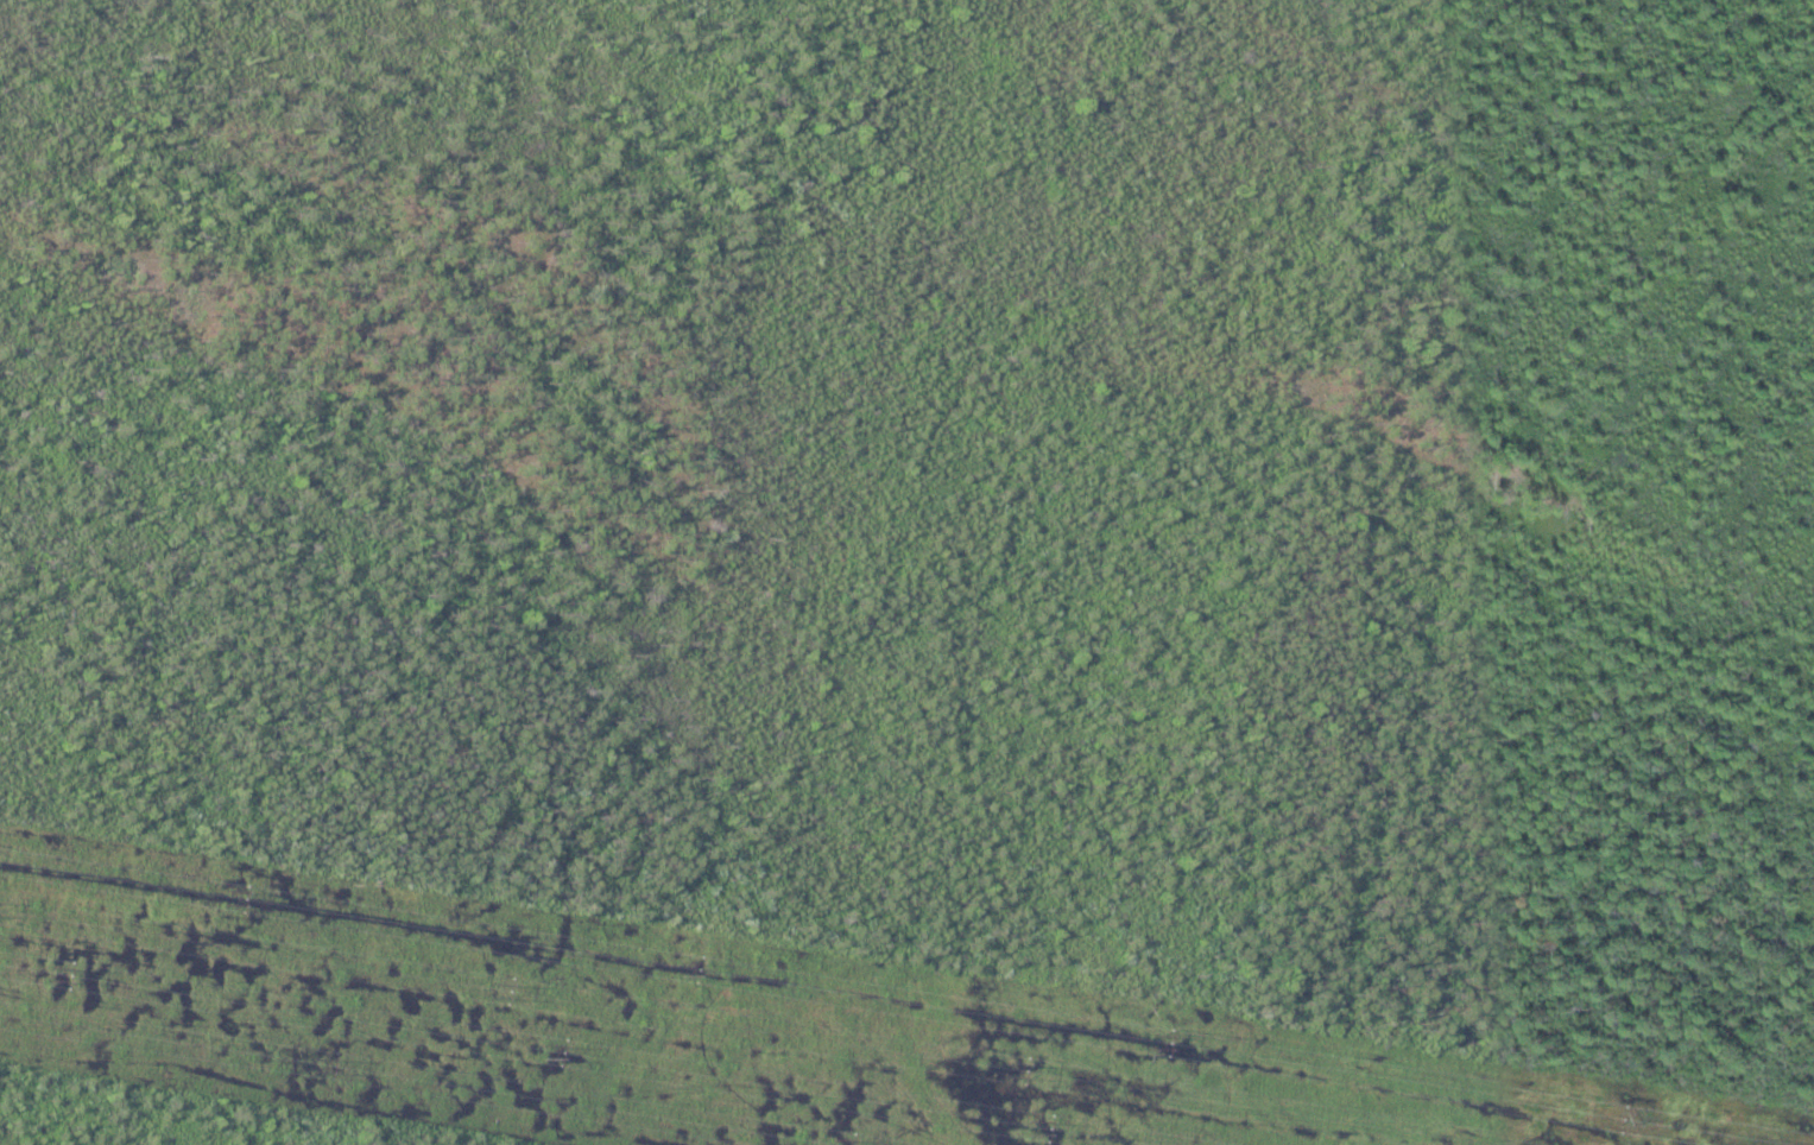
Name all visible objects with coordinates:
power tower: (229, 892)
power tower: (683, 962)
power tower: (49, 972)
power tower: (492, 985)
power tower: (1153, 1036)
power tower: (543, 1048)
power tower: (317, 1063)
power tower: (1010, 1063)
power tower: (1645, 1111)
power tower: (1029, 1125)
power tower: (1508, 1138)

